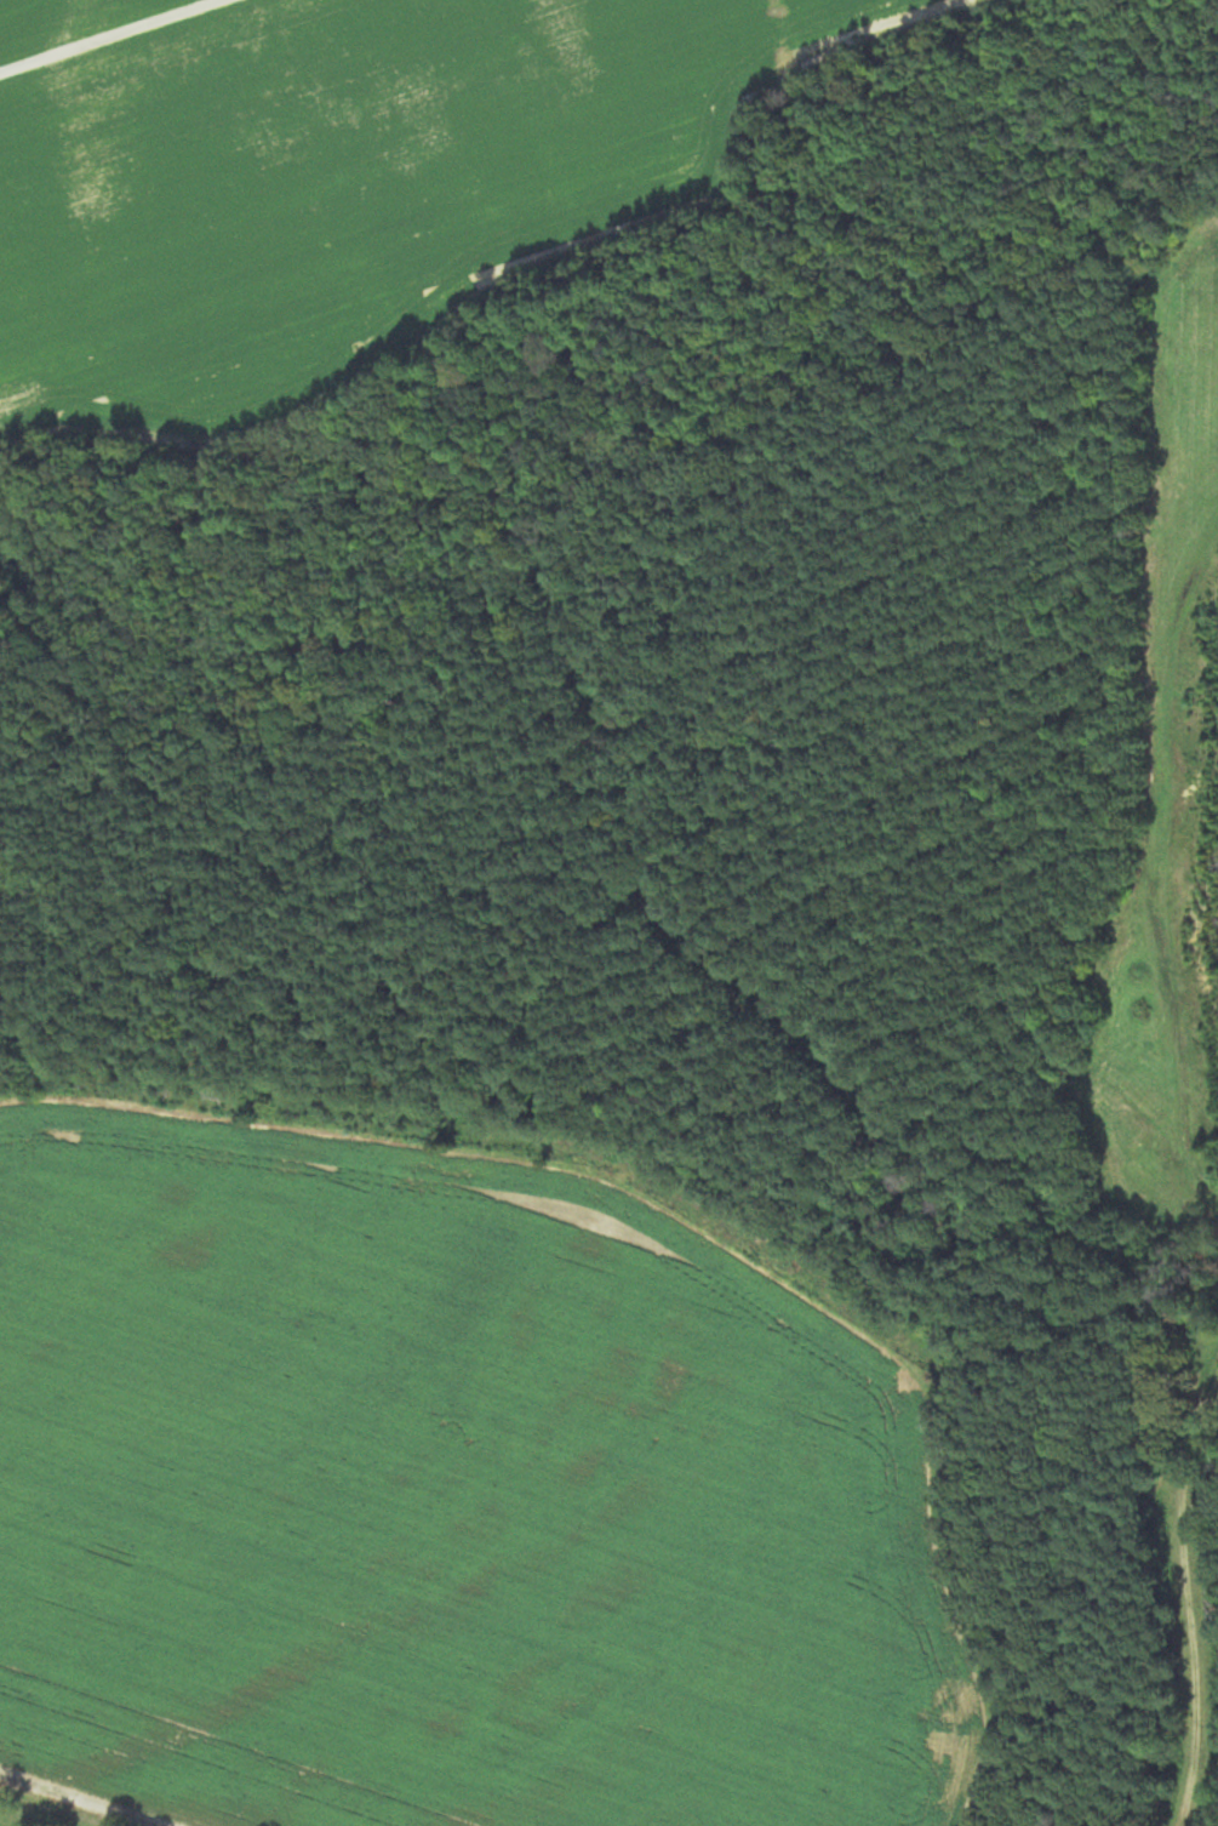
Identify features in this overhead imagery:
road: (110, 35)
road: (1212, 1399)
road: (1188, 1594)
road: (65, 1804)

